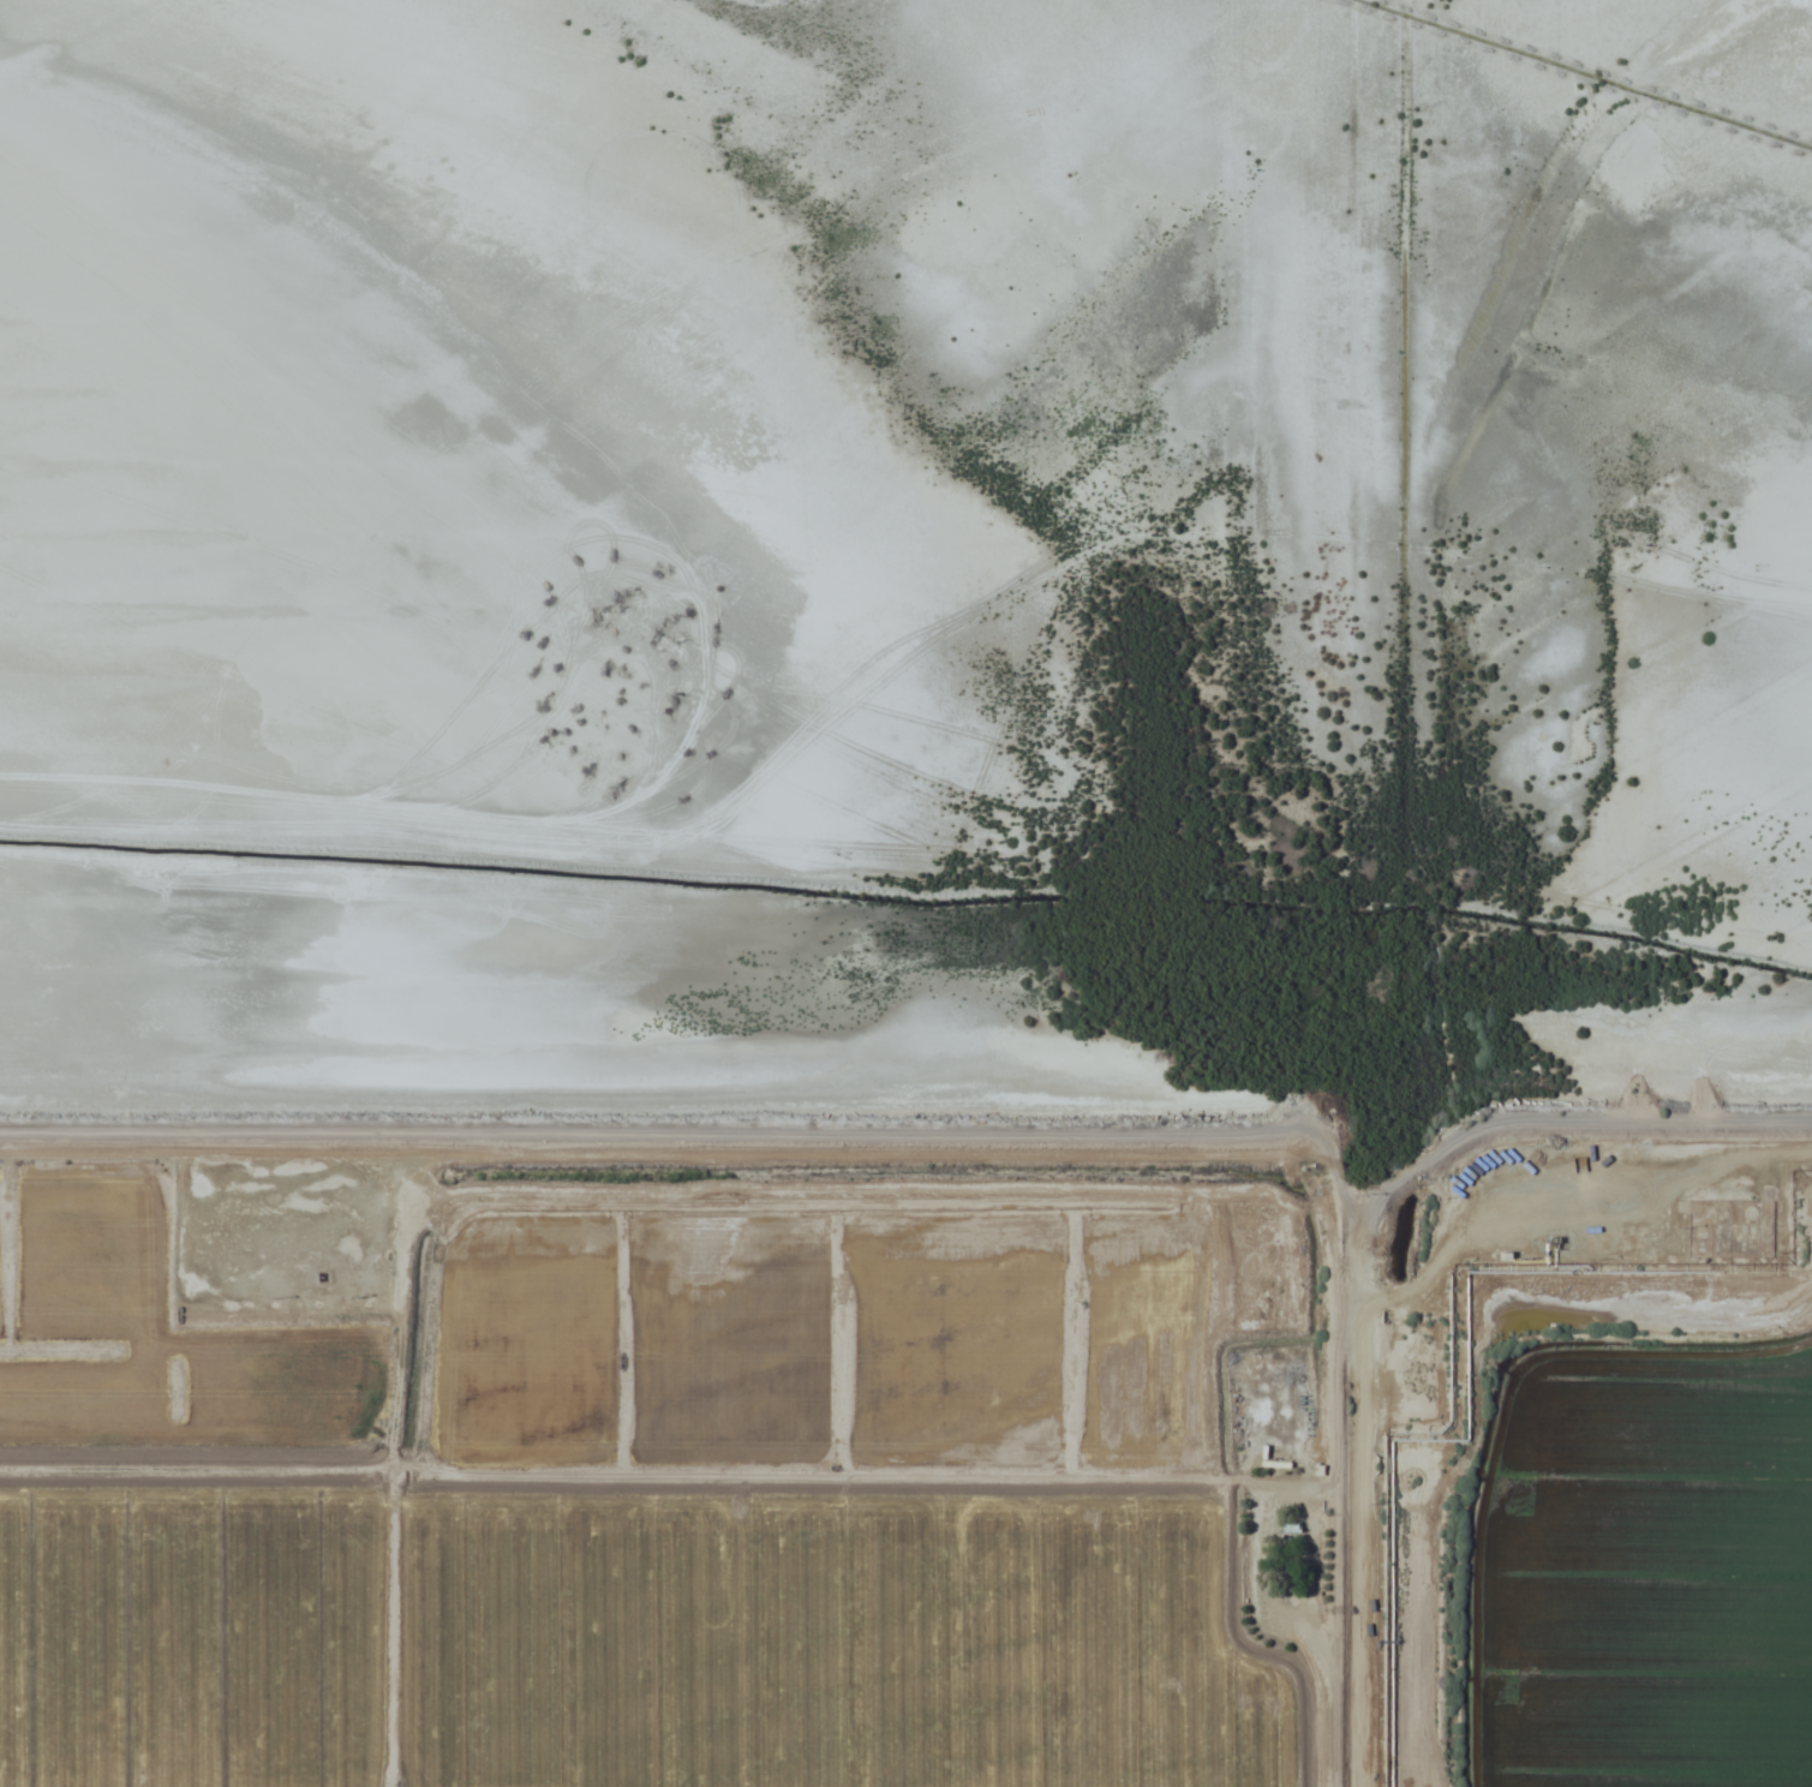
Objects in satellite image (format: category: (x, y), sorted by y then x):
road: (1353, 1476)

